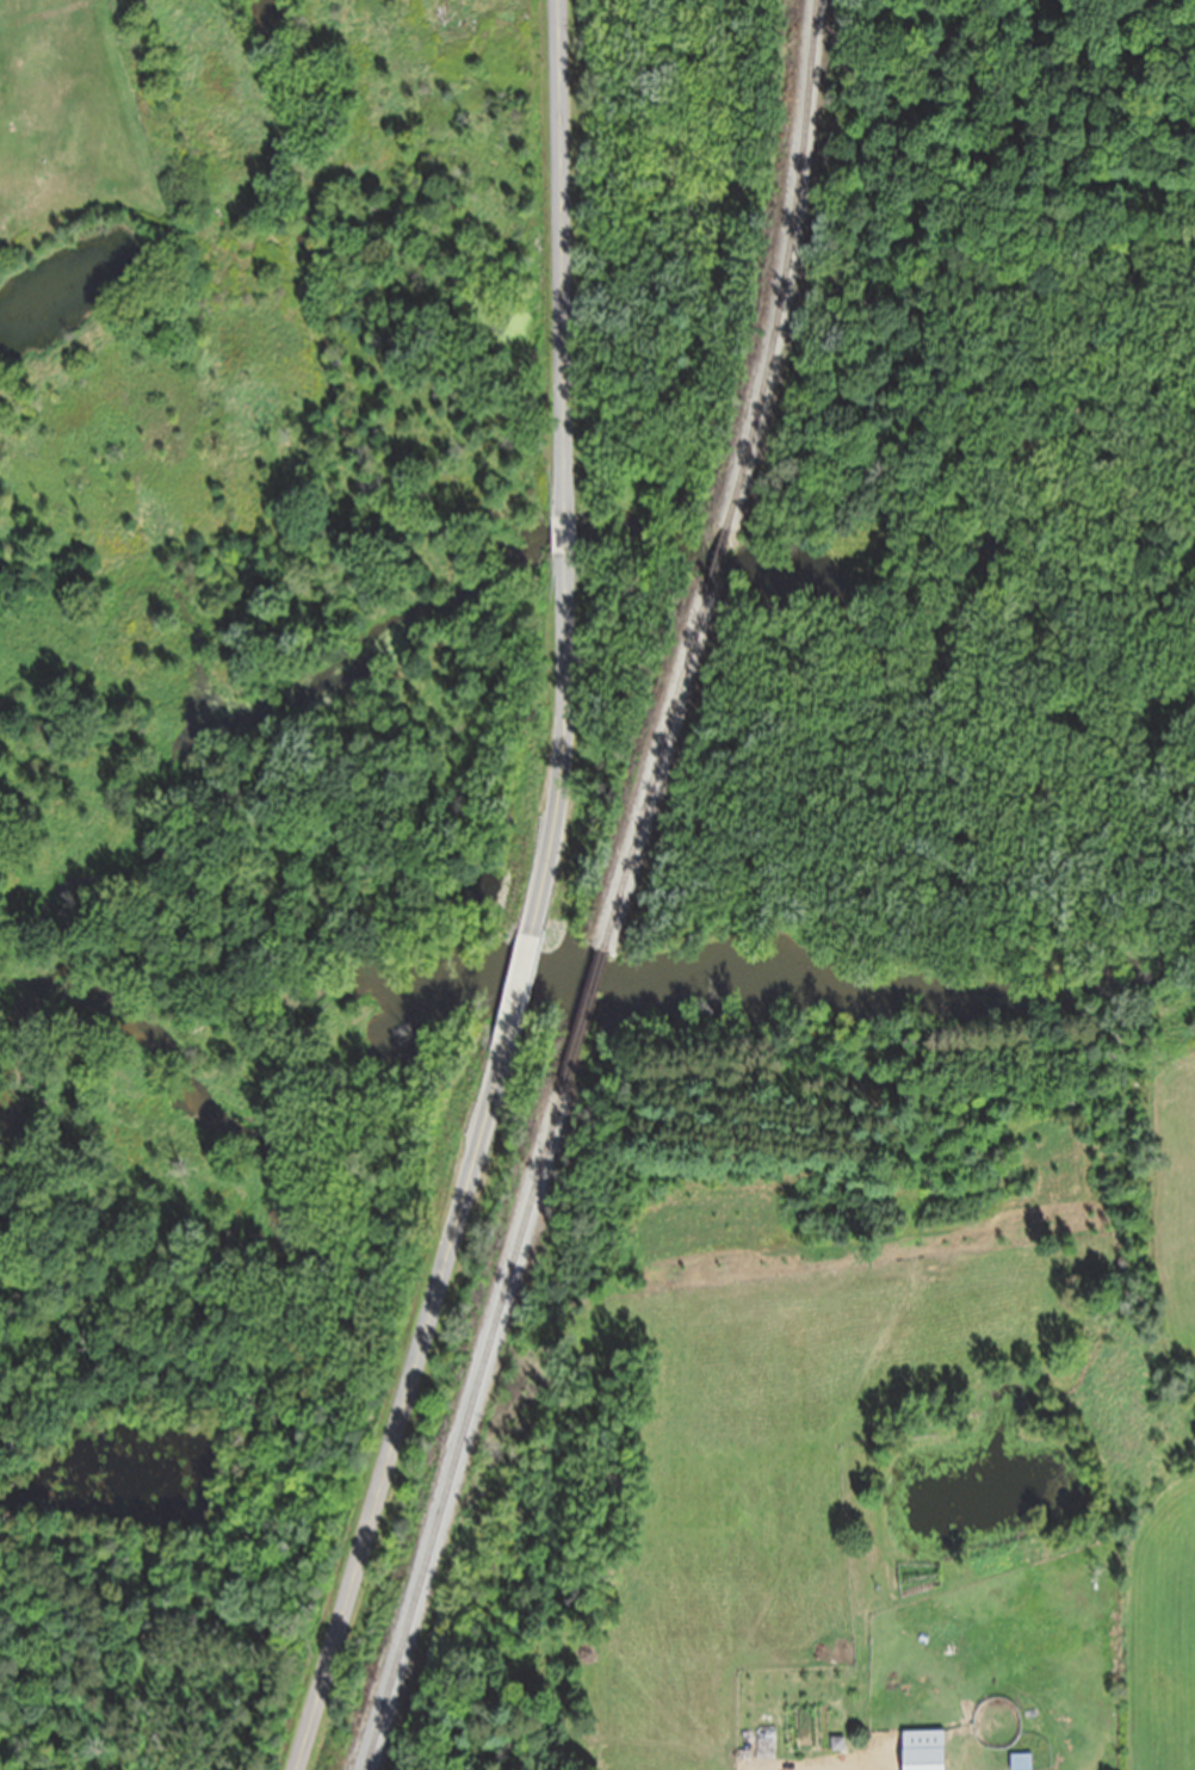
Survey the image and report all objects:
road: (562, 258)
railway: (791, 268)
road: (563, 536)
railway: (716, 562)
road: (565, 744)
railway: (660, 774)
road: (513, 1004)
railway: (580, 1021)
road: (395, 1423)
railway: (462, 1431)

